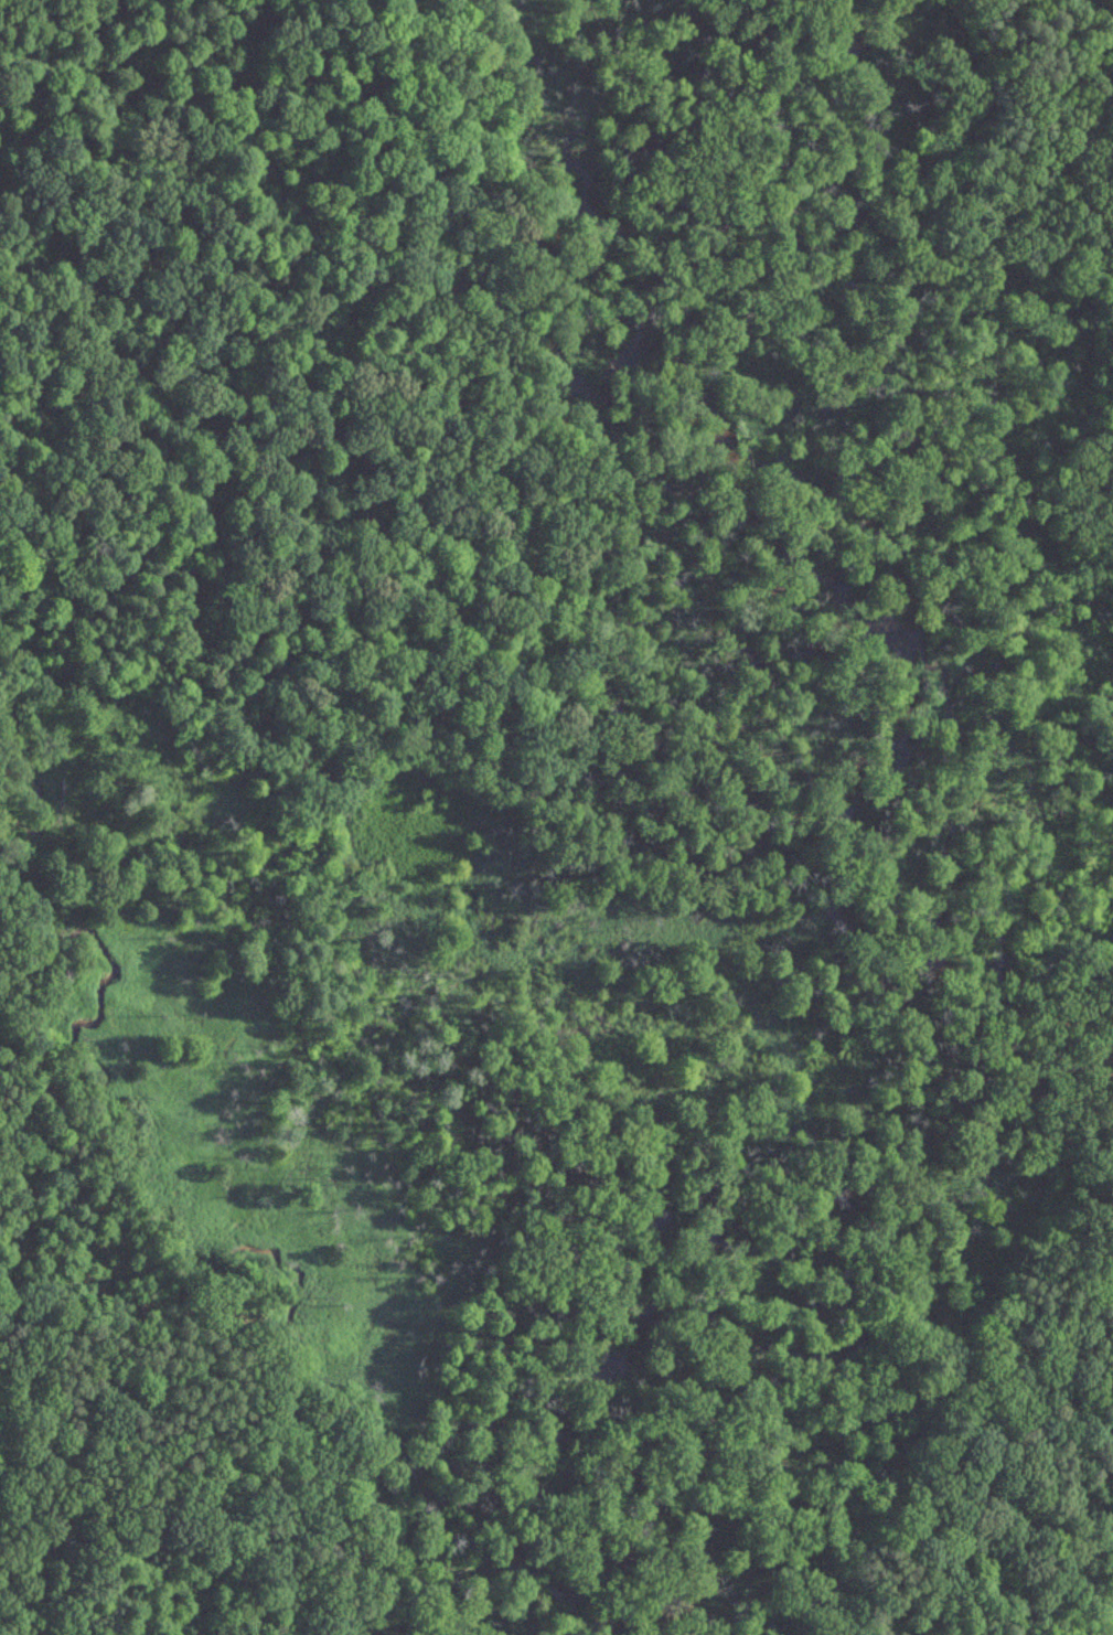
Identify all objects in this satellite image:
road: (1030, 220)
road: (1101, 1107)
road: (1036, 1476)

